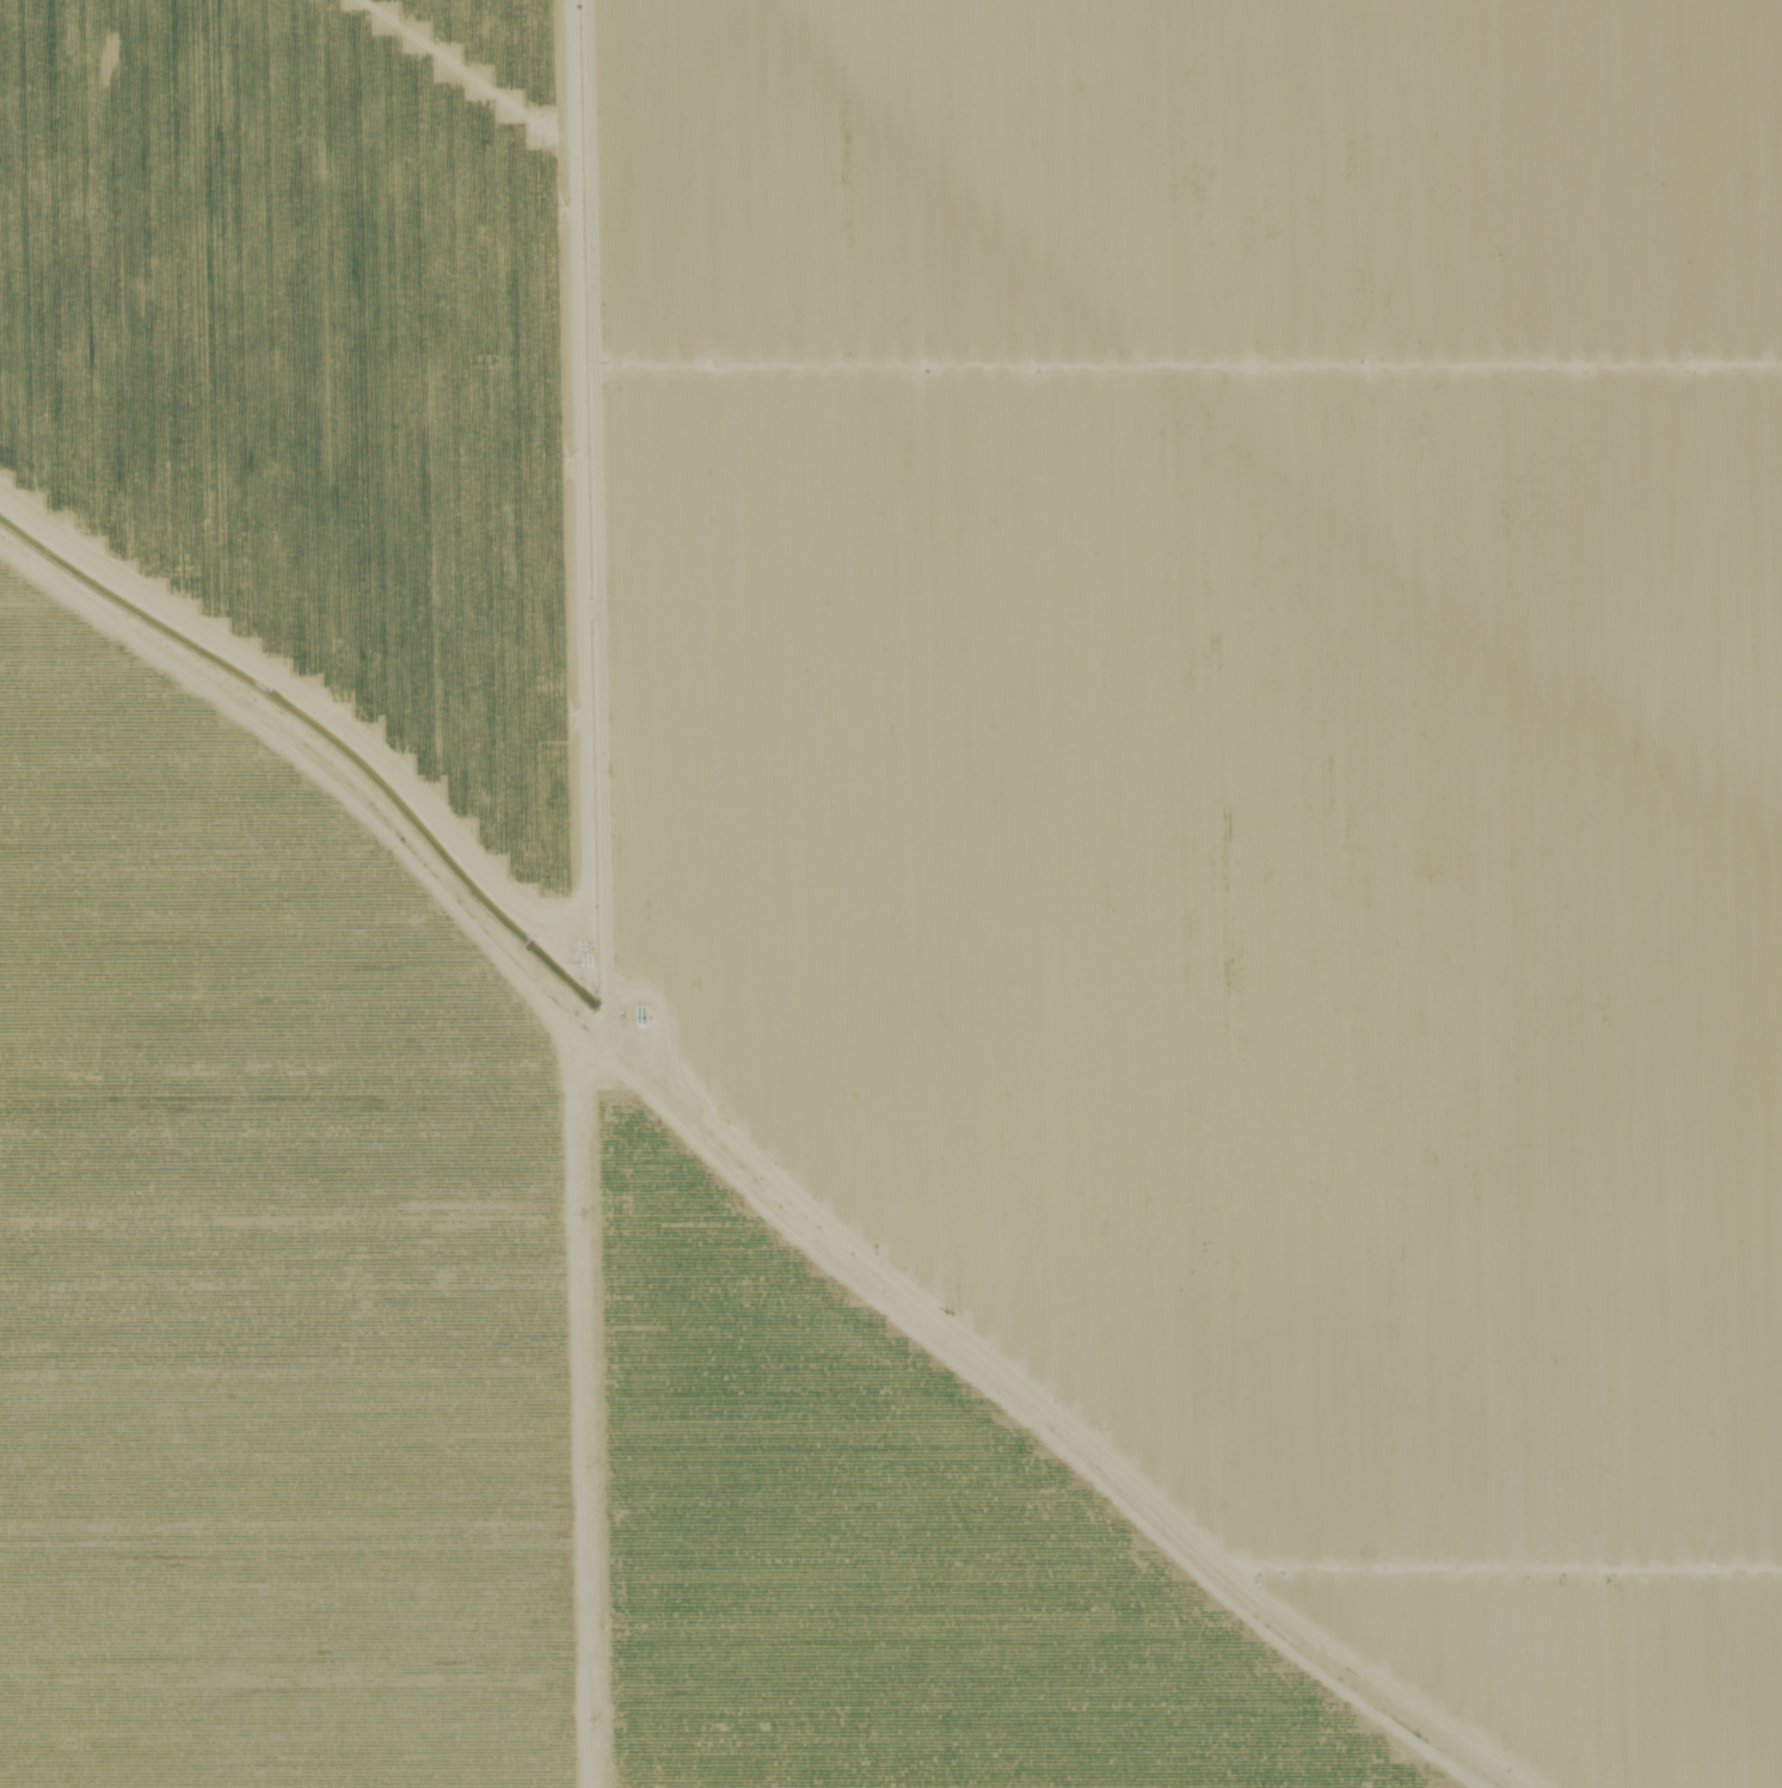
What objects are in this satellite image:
crop: (318, 364)
crop: (1240, 781)
crop: (269, 1277)
crop: (878, 1546)

